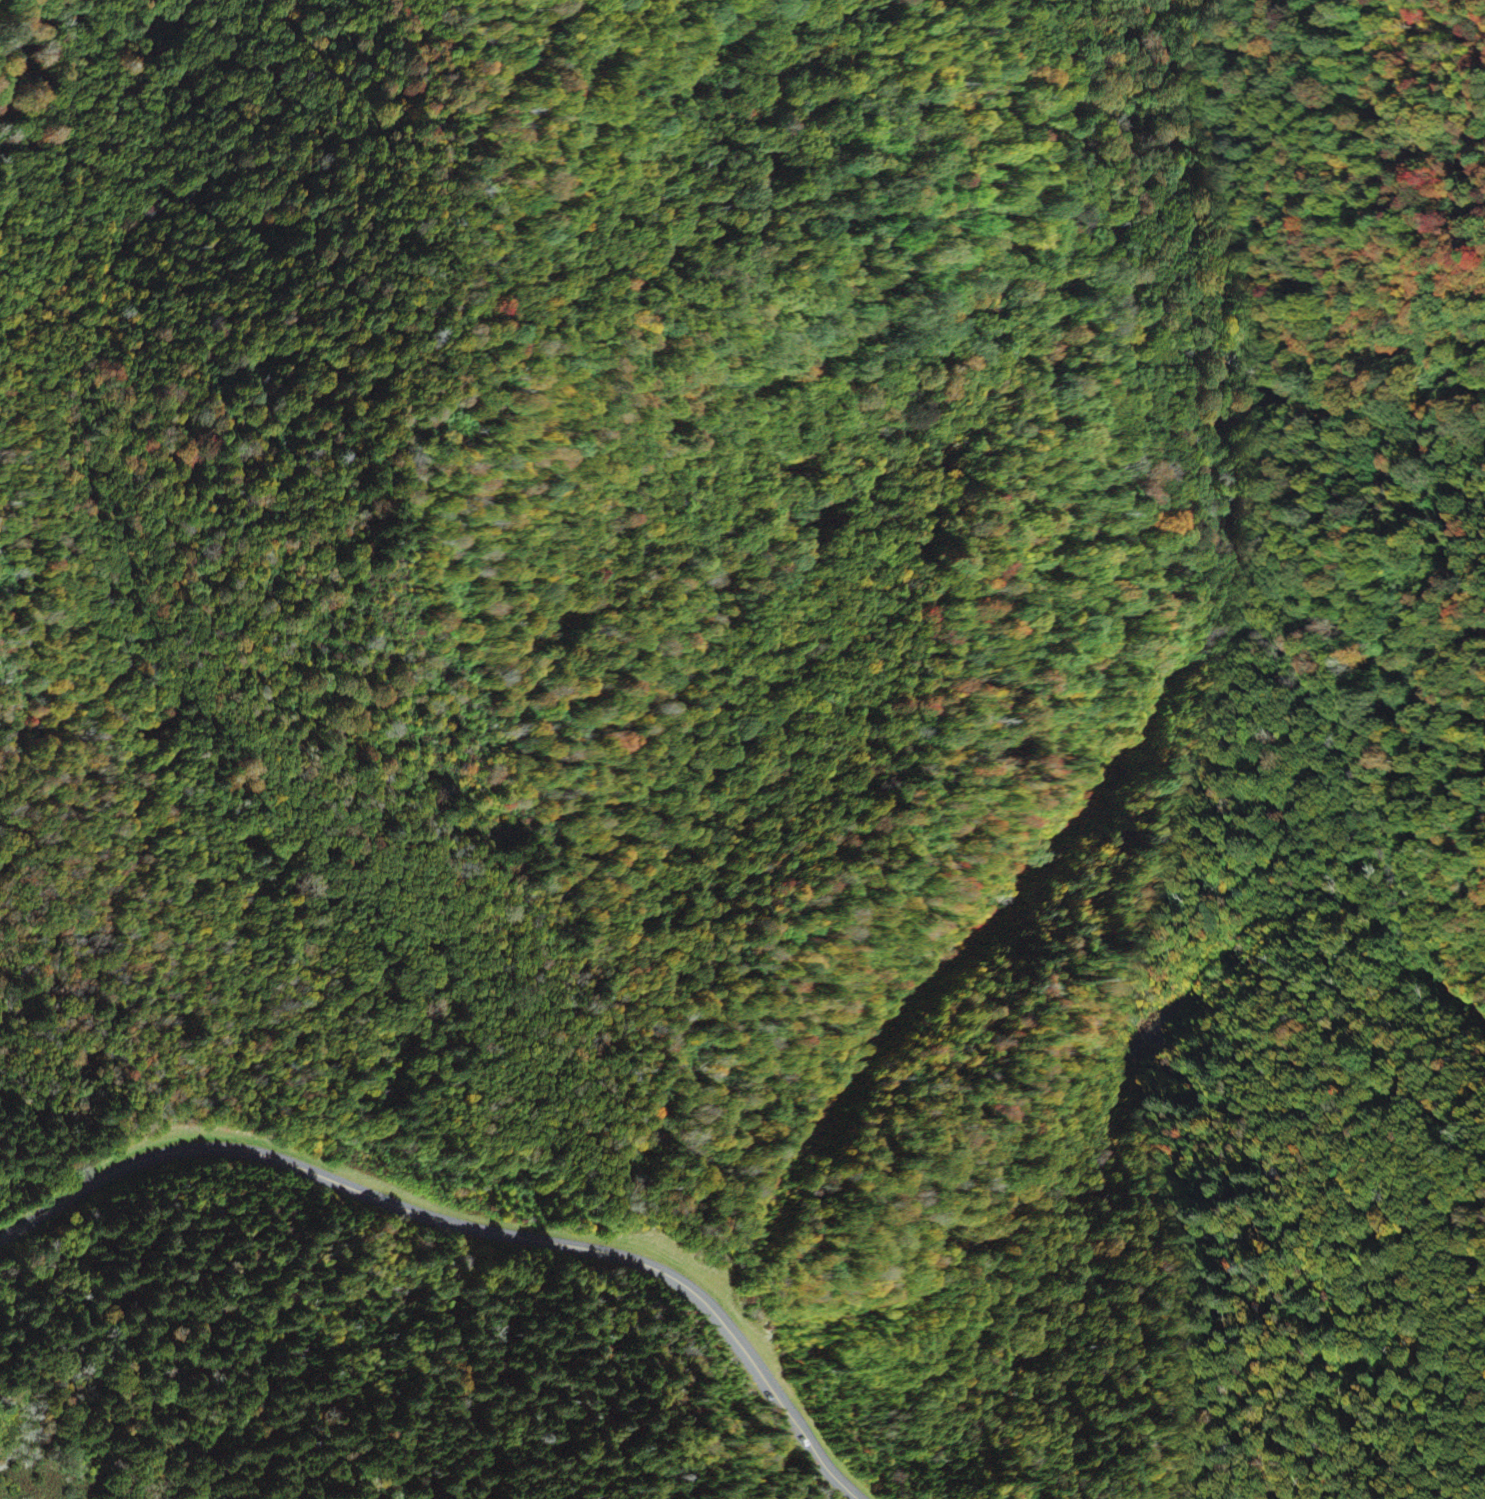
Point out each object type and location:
road: (471, 1227)

